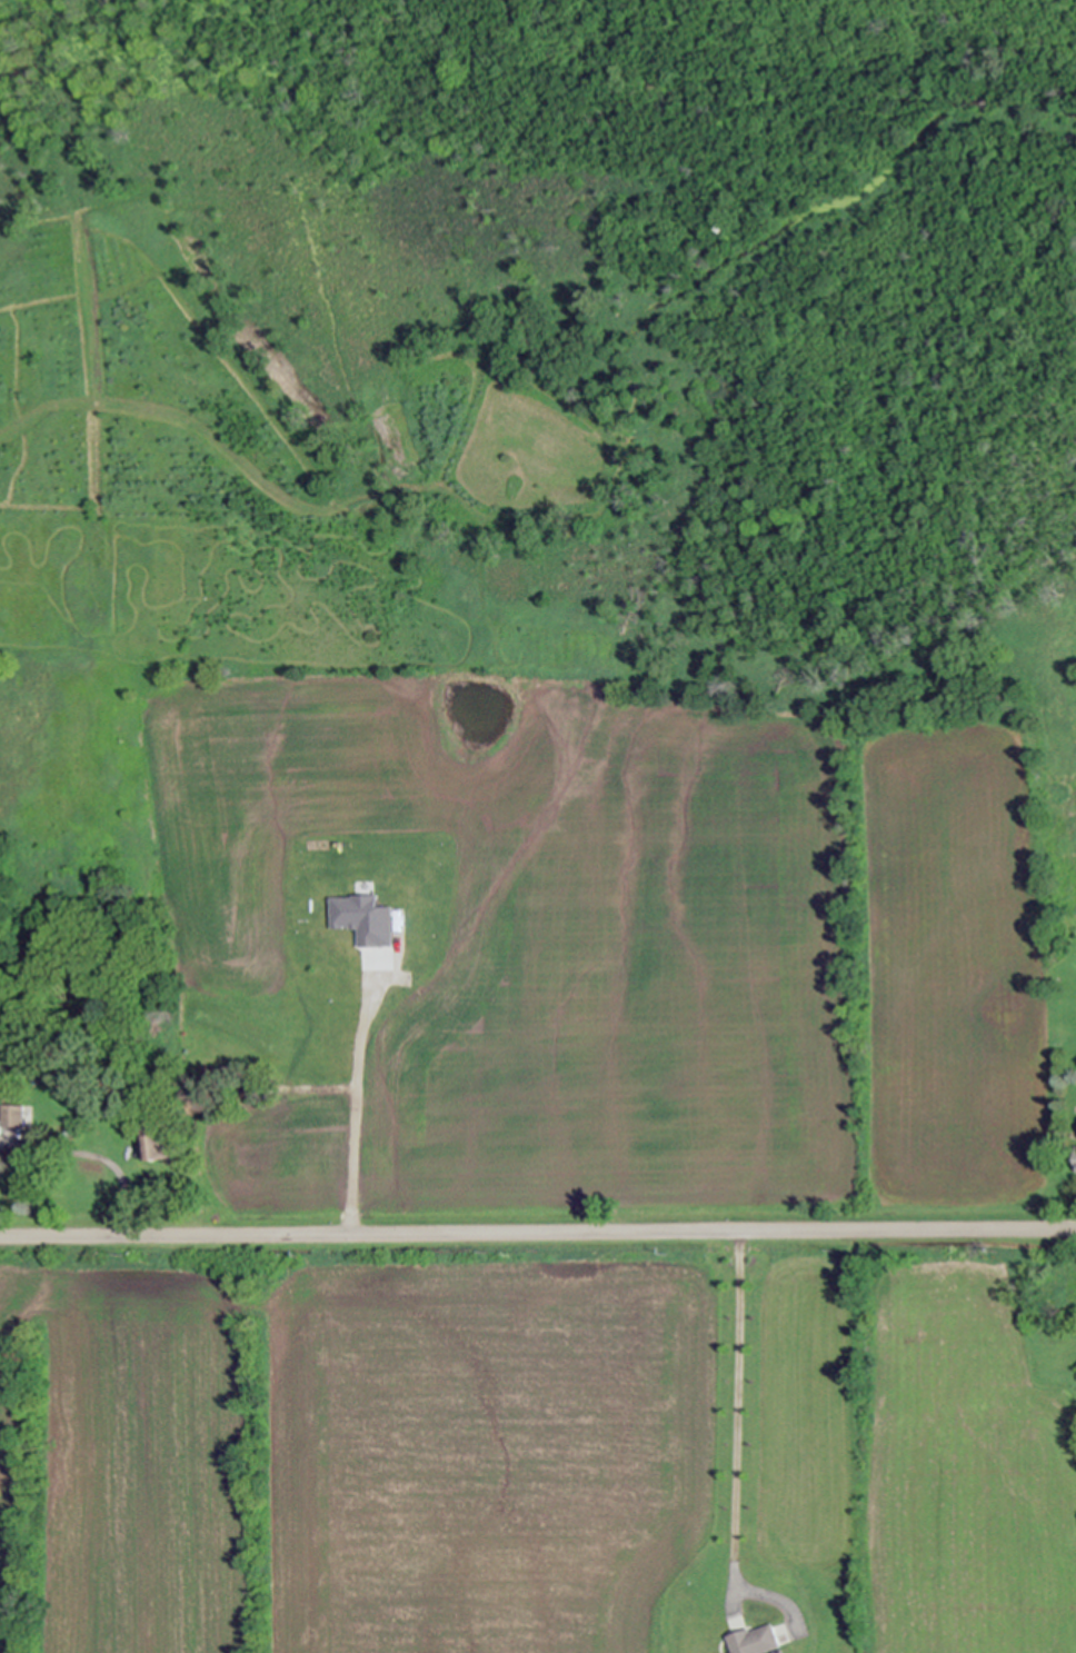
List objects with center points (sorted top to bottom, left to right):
building: (983, 101)
building: (727, 227)
building: (390, 487)
road: (346, 1098)
building: (94, 1112)
building: (213, 1116)
building: (11, 1117)
building: (147, 1131)
building: (61, 1135)
building: (1075, 1144)
road: (92, 1152)
building: (1075, 1159)
road: (538, 1235)
road: (728, 1415)
building: (757, 1641)
building: (776, 1652)

